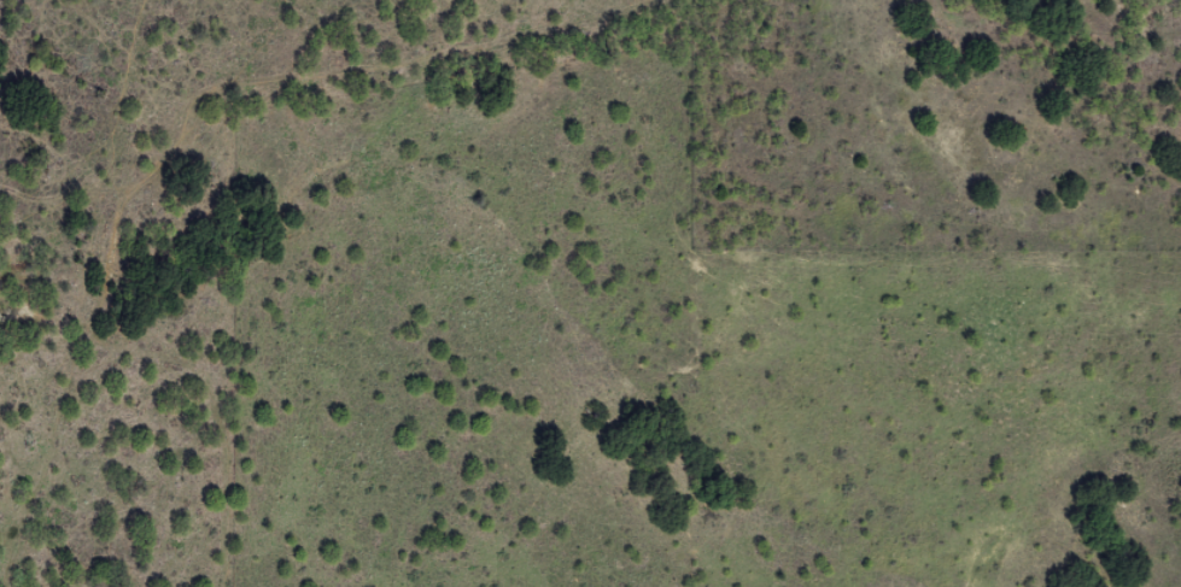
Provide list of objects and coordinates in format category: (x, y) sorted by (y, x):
road: (16, 557)

